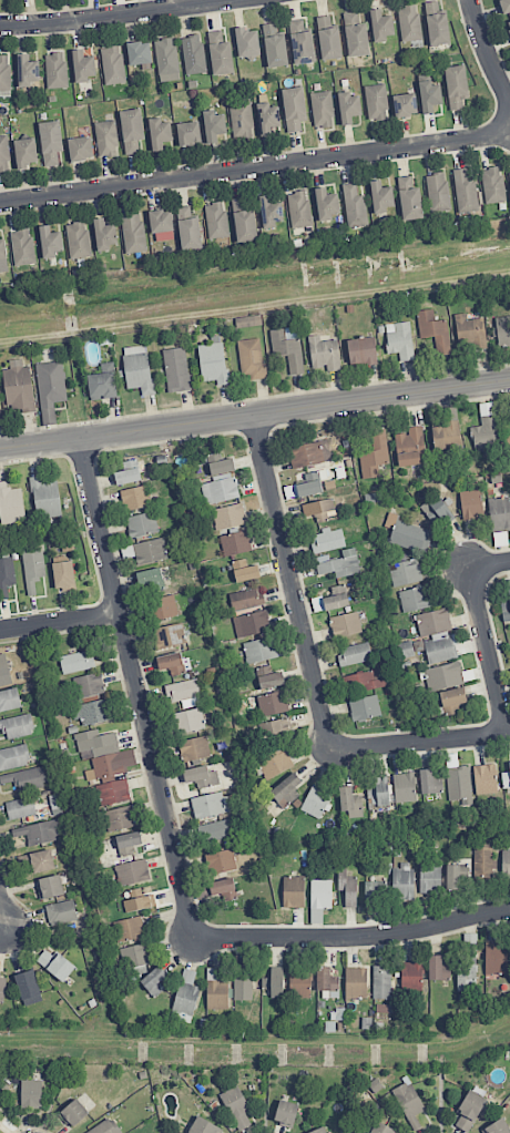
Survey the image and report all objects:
building: (506, 6)
road: (123, 17)
building: (409, 23)
building: (436, 24)
building: (508, 24)
building: (380, 25)
building: (355, 35)
building: (328, 39)
building: (247, 42)
building: (300, 42)
building: (274, 47)
road: (487, 52)
building: (139, 53)
building: (220, 53)
building: (193, 54)
building: (166, 60)
building: (112, 64)
building: (83, 65)
building: (27, 70)
building: (55, 70)
building: (4, 73)
building: (456, 85)
building: (429, 95)
building: (376, 102)
building: (405, 104)
building: (348, 108)
building: (294, 109)
building: (322, 109)
building: (268, 119)
building: (242, 120)
building: (214, 125)
building: (131, 131)
building: (160, 133)
building: (188, 133)
building: (105, 139)
building: (50, 141)
building: (80, 149)
building: (24, 152)
building: (3, 153)
road: (255, 170)
building: (492, 185)
building: (438, 192)
building: (465, 194)
building: (381, 197)
building: (409, 198)
building: (327, 204)
building: (355, 206)
building: (298, 210)
building: (271, 212)
building: (216, 220)
building: (244, 221)
building: (161, 225)
building: (188, 229)
building: (133, 233)
building: (104, 234)
building: (78, 239)
building: (50, 242)
building: (22, 247)
building: (2, 254)
building: (248, 320)
building: (435, 330)
building: (503, 330)
building: (471, 331)
building: (400, 340)
building: (287, 350)
building: (361, 350)
building: (324, 354)
building: (251, 359)
building: (213, 363)
building: (137, 368)
building: (176, 369)
building: (103, 382)
building: (18, 387)
building: (50, 389)
road: (255, 414)
building: (484, 428)
building: (446, 437)
building: (509, 445)
building: (410, 447)
building: (309, 453)
building: (374, 455)
building: (220, 463)
building: (127, 472)
building: (308, 488)
building: (220, 489)
building: (136, 497)
building: (45, 498)
building: (11, 504)
building: (471, 504)
building: (436, 509)
building: (317, 510)
building: (500, 514)
building: (228, 516)
building: (142, 524)
building: (407, 534)
building: (328, 540)
building: (235, 542)
building: (150, 550)
building: (338, 563)
road: (489, 563)
building: (33, 569)
building: (245, 570)
building: (405, 572)
building: (63, 574)
building: (6, 575)
building: (150, 578)
road: (292, 582)
building: (337, 598)
building: (246, 599)
building: (415, 599)
building: (317, 603)
building: (163, 608)
building: (506, 610)
road: (59, 613)
building: (433, 622)
building: (251, 623)
building: (345, 624)
building: (169, 635)
building: (439, 647)
building: (259, 650)
road: (488, 651)
building: (354, 653)
building: (76, 662)
building: (171, 663)
building: (4, 671)
building: (445, 675)
building: (269, 677)
building: (364, 681)
building: (88, 685)
road: (135, 688)
building: (184, 693)
building: (453, 696)
building: (9, 700)
building: (272, 703)
building: (364, 707)
building: (94, 712)
building: (187, 721)
building: (17, 726)
building: (273, 728)
road: (420, 742)
building: (95, 743)
building: (194, 748)
building: (14, 756)
building: (275, 763)
building: (112, 776)
building: (201, 776)
building: (25, 778)
building: (484, 778)
building: (506, 778)
building: (429, 782)
building: (458, 784)
building: (404, 787)
building: (286, 789)
building: (316, 800)
building: (350, 802)
building: (210, 805)
building: (20, 807)
building: (119, 818)
building: (215, 830)
building: (39, 831)
building: (127, 843)
building: (483, 860)
building: (37, 861)
building: (221, 861)
building: (506, 862)
building: (132, 871)
building: (456, 876)
building: (430, 878)
building: (402, 881)
building: (50, 886)
building: (347, 887)
building: (224, 888)
building: (293, 891)
building: (374, 892)
building: (320, 894)
building: (139, 902)
building: (61, 912)
road: (1, 916)
building: (316, 916)
building: (129, 929)
road: (353, 939)
building: (496, 958)
building: (467, 961)
building: (54, 963)
building: (438, 969)
building: (411, 976)
building: (154, 981)
building: (274, 982)
building: (299, 982)
building: (327, 982)
building: (356, 982)
building: (381, 982)
building: (242, 983)
building: (27, 984)
building: (2, 987)
building: (216, 990)
building: (185, 997)
building: (31, 1093)
building: (408, 1100)
building: (236, 1106)
building: (469, 1110)
building: (73, 1113)
building: (286, 1113)
building: (105, 1126)
building: (204, 1126)
building: (381, 1129)
building: (318, 1130)

